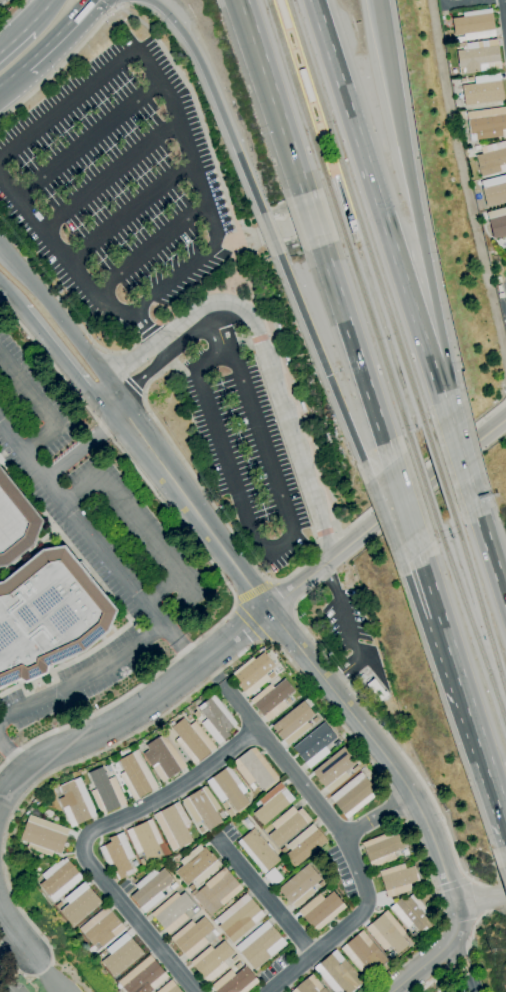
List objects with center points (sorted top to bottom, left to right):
road: (0, 0)
road: (120, 3)
road: (505, 6)
road: (36, 13)
building: (282, 14)
building: (473, 25)
road: (61, 35)
road: (12, 38)
road: (383, 44)
building: (478, 56)
road: (64, 61)
road: (12, 77)
building: (306, 85)
building: (482, 90)
railway: (297, 92)
road: (216, 96)
road: (273, 96)
building: (487, 123)
road: (205, 136)
road: (87, 139)
building: (491, 158)
railway: (331, 171)
road: (110, 175)
road: (340, 179)
parking lot: (121, 190)
building: (494, 191)
road: (376, 197)
road: (347, 203)
road: (204, 205)
railway: (335, 211)
road: (129, 212)
road: (347, 214)
railway: (356, 217)
road: (312, 219)
building: (497, 222)
building: (352, 226)
road: (281, 230)
road: (247, 232)
road: (271, 233)
road: (421, 241)
road: (148, 249)
building: (497, 280)
road: (10, 295)
parking lot: (501, 302)
road: (64, 306)
road: (57, 316)
road: (176, 326)
building: (278, 326)
road: (143, 328)
road: (214, 329)
road: (148, 331)
building: (279, 335)
road: (249, 341)
railway: (377, 342)
road: (58, 353)
road: (356, 353)
building: (286, 357)
road: (280, 362)
road: (127, 364)
road: (182, 369)
road: (326, 370)
road: (142, 374)
road: (122, 375)
road: (198, 382)
building: (302, 406)
road: (443, 406)
road: (40, 407)
road: (282, 409)
road: (83, 443)
parking lot: (249, 445)
road: (460, 462)
road: (419, 469)
road: (189, 472)
railway: (440, 474)
railway: (424, 486)
road: (419, 487)
parking lot: (93, 495)
road: (185, 498)
road: (405, 506)
road: (385, 521)
building: (15, 522)
road: (139, 526)
road: (323, 532)
road: (99, 542)
road: (490, 556)
road: (211, 563)
road: (300, 564)
road: (300, 583)
road: (253, 592)
road: (432, 594)
road: (416, 605)
railway: (479, 605)
building: (48, 615)
road: (249, 624)
railway: (470, 627)
road: (348, 628)
parking lot: (350, 637)
building: (254, 673)
building: (362, 676)
road: (86, 678)
parking lot: (77, 690)
building: (377, 690)
building: (271, 699)
building: (288, 701)
road: (136, 711)
building: (196, 714)
building: (188, 717)
building: (216, 719)
building: (314, 720)
building: (293, 723)
road: (145, 726)
road: (381, 728)
road: (476, 729)
building: (192, 740)
building: (314, 745)
road: (13, 755)
building: (163, 758)
road: (388, 762)
building: (107, 768)
building: (254, 769)
building: (355, 769)
building: (334, 770)
building: (136, 775)
building: (228, 788)
building: (105, 791)
building: (354, 795)
road: (399, 802)
building: (76, 803)
building: (272, 803)
road: (319, 805)
building: (202, 808)
building: (230, 812)
road: (378, 816)
building: (247, 823)
building: (287, 825)
building: (173, 826)
building: (201, 830)
road: (88, 833)
building: (44, 835)
building: (145, 840)
building: (304, 845)
building: (383, 847)
building: (258, 850)
building: (283, 850)
building: (406, 851)
building: (117, 856)
road: (424, 859)
building: (134, 863)
building: (197, 866)
building: (273, 877)
building: (59, 879)
building: (398, 880)
road: (468, 880)
building: (320, 884)
road: (451, 884)
building: (299, 886)
building: (191, 887)
building: (150, 889)
building: (328, 889)
road: (436, 890)
building: (217, 891)
road: (266, 898)
road: (481, 898)
building: (79, 904)
building: (59, 905)
building: (195, 910)
building: (321, 910)
building: (172, 912)
building: (412, 914)
building: (238, 918)
road: (473, 925)
building: (101, 928)
road: (15, 930)
building: (214, 932)
building: (387, 933)
building: (414, 934)
building: (192, 937)
building: (260, 945)
road: (15, 953)
building: (363, 953)
building: (101, 955)
building: (121, 955)
building: (391, 955)
building: (234, 959)
road: (458, 959)
building: (212, 961)
road: (463, 964)
building: (237, 965)
road: (422, 965)
road: (48, 973)
road: (290, 973)
building: (338, 973)
building: (143, 977)
road: (434, 980)
building: (234, 981)
building: (309, 986)
parking lot: (18, 987)
building: (169, 988)

